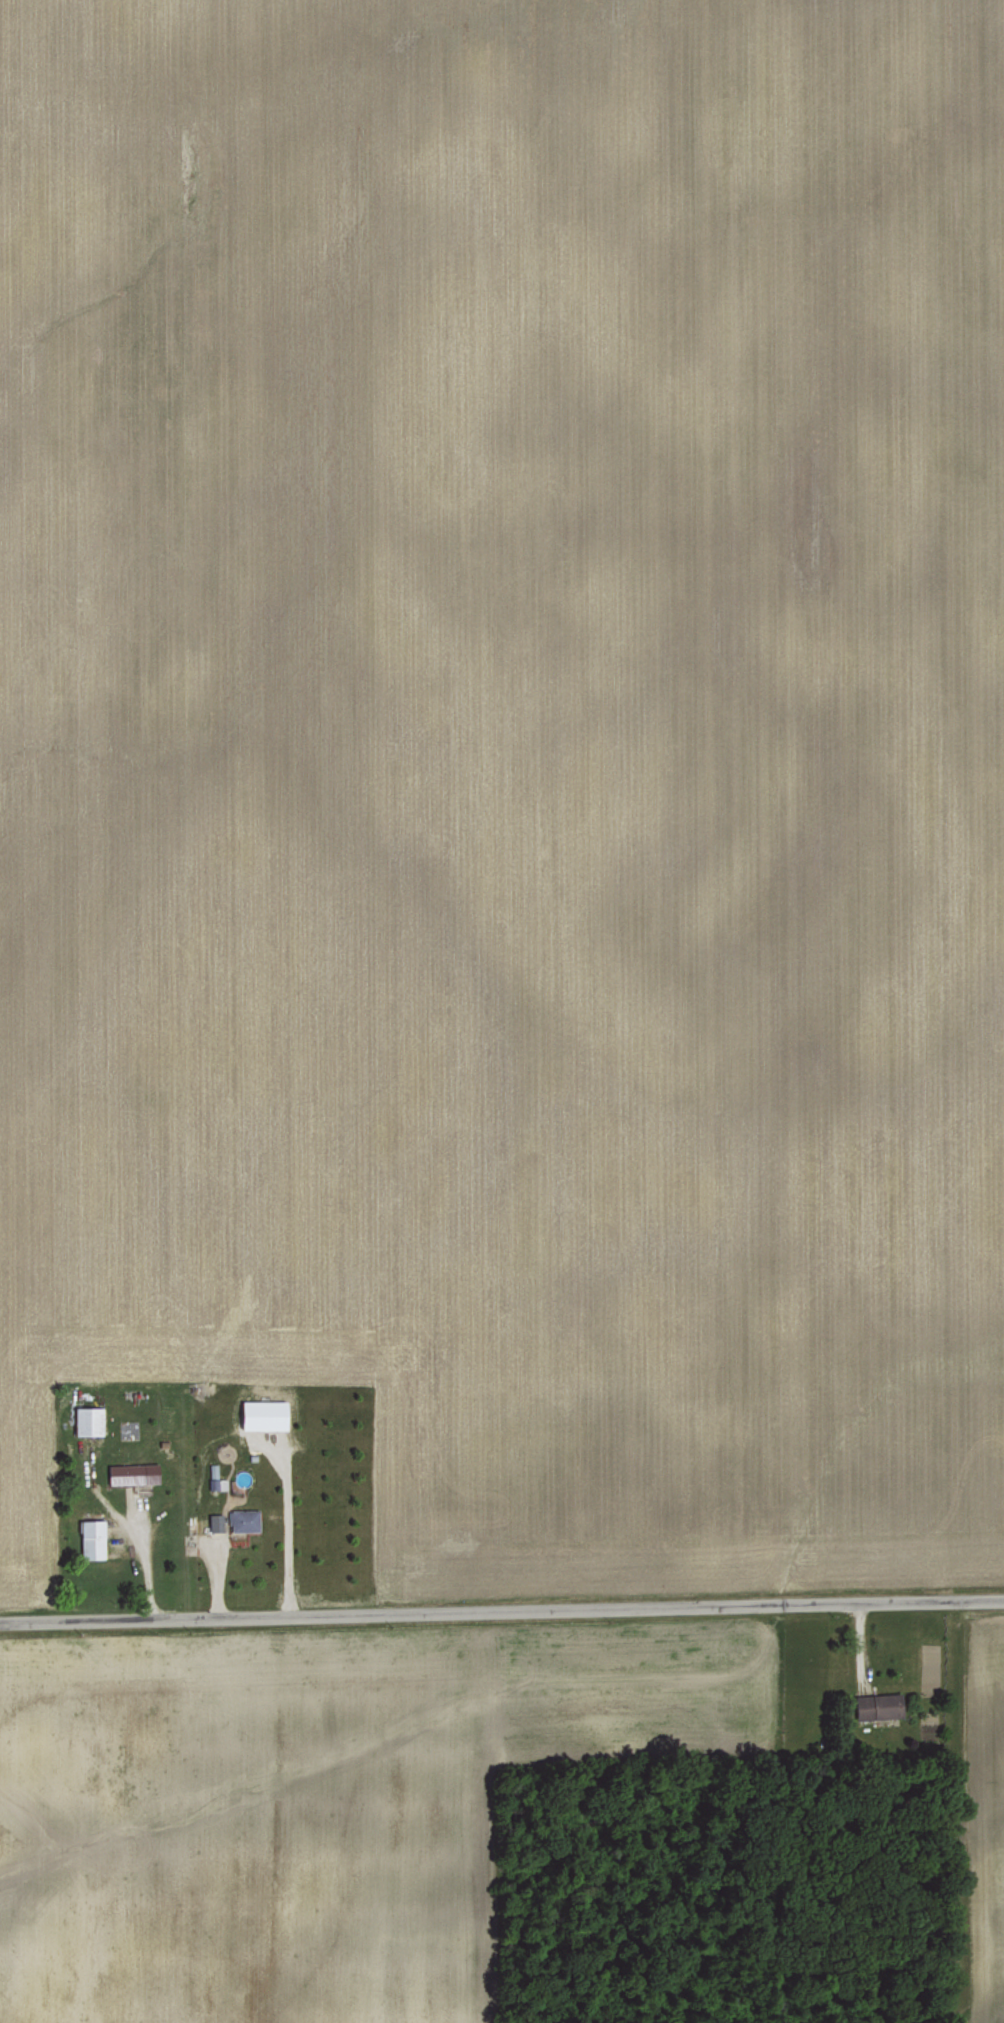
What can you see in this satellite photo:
building: (86, 1420)
building: (212, 1469)
building: (132, 1472)
building: (243, 1519)
building: (214, 1520)
building: (91, 1538)
road: (146, 1553)
road: (501, 1610)
building: (878, 1705)

